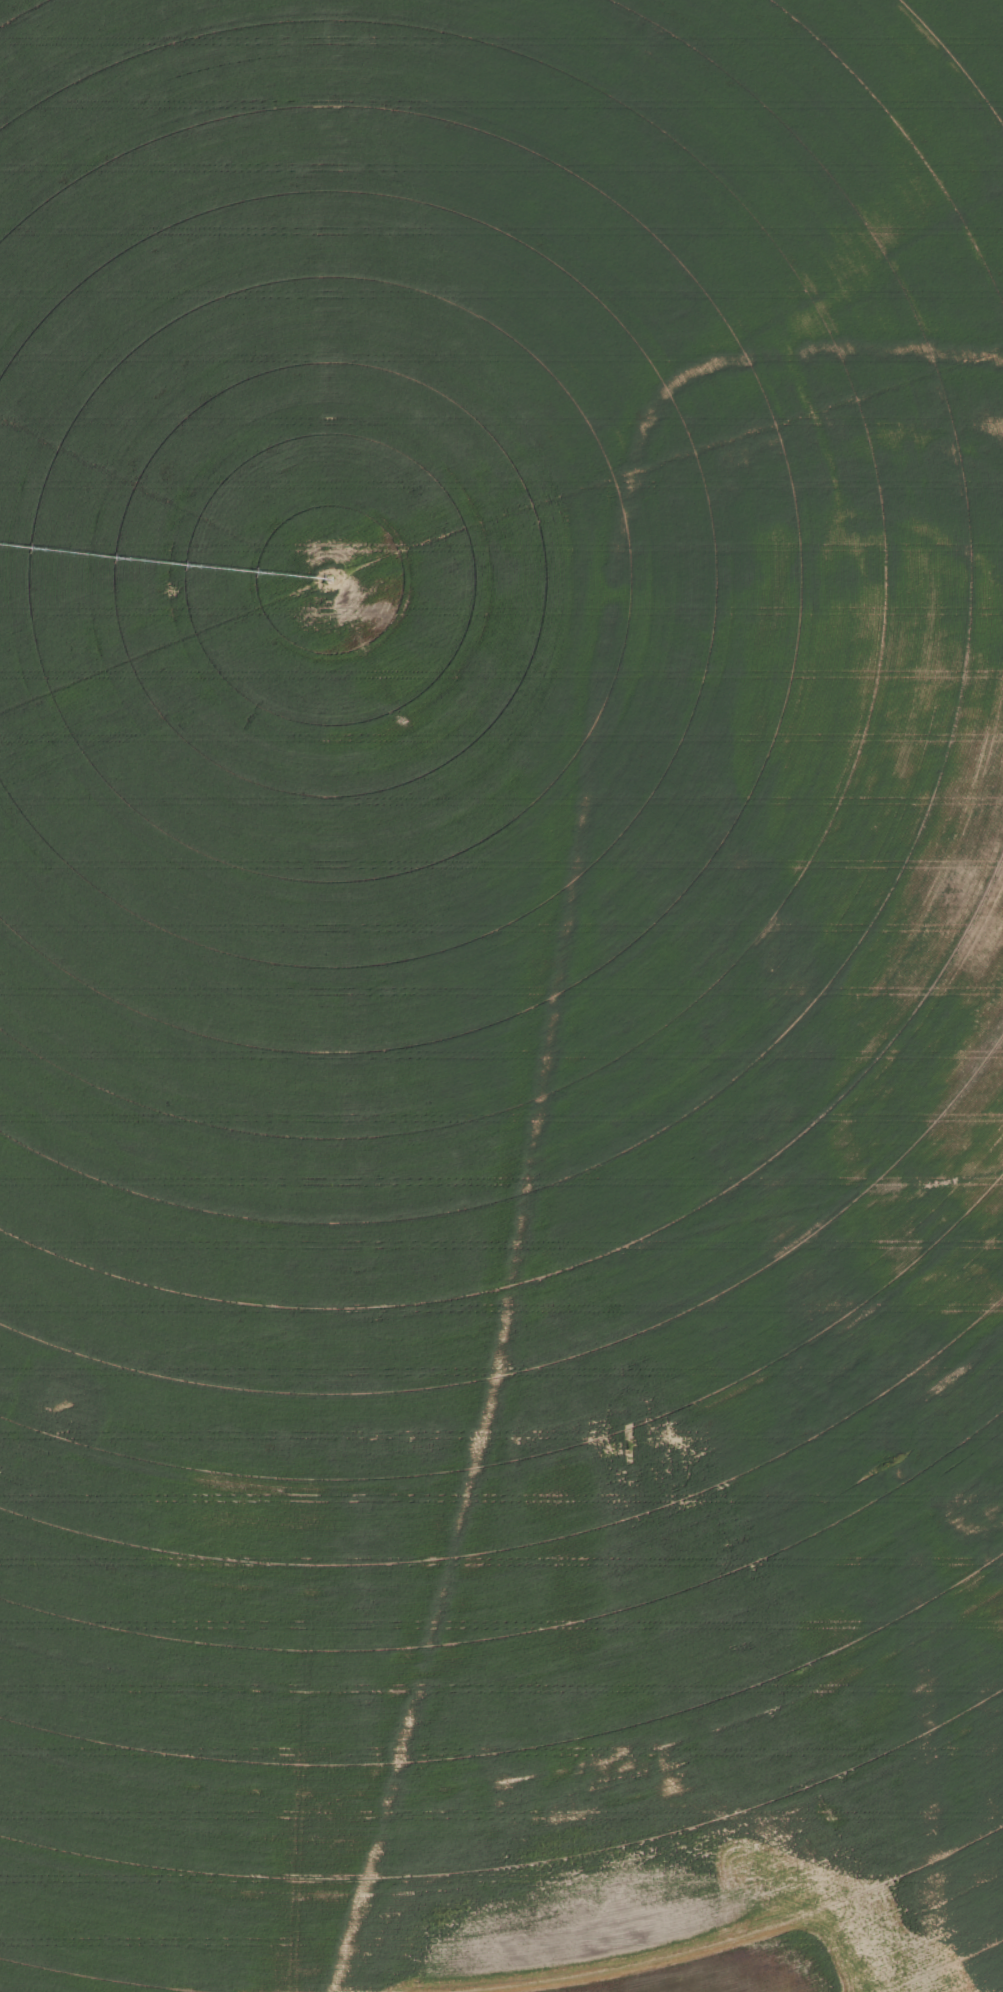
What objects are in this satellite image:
road: (376, 1889)

